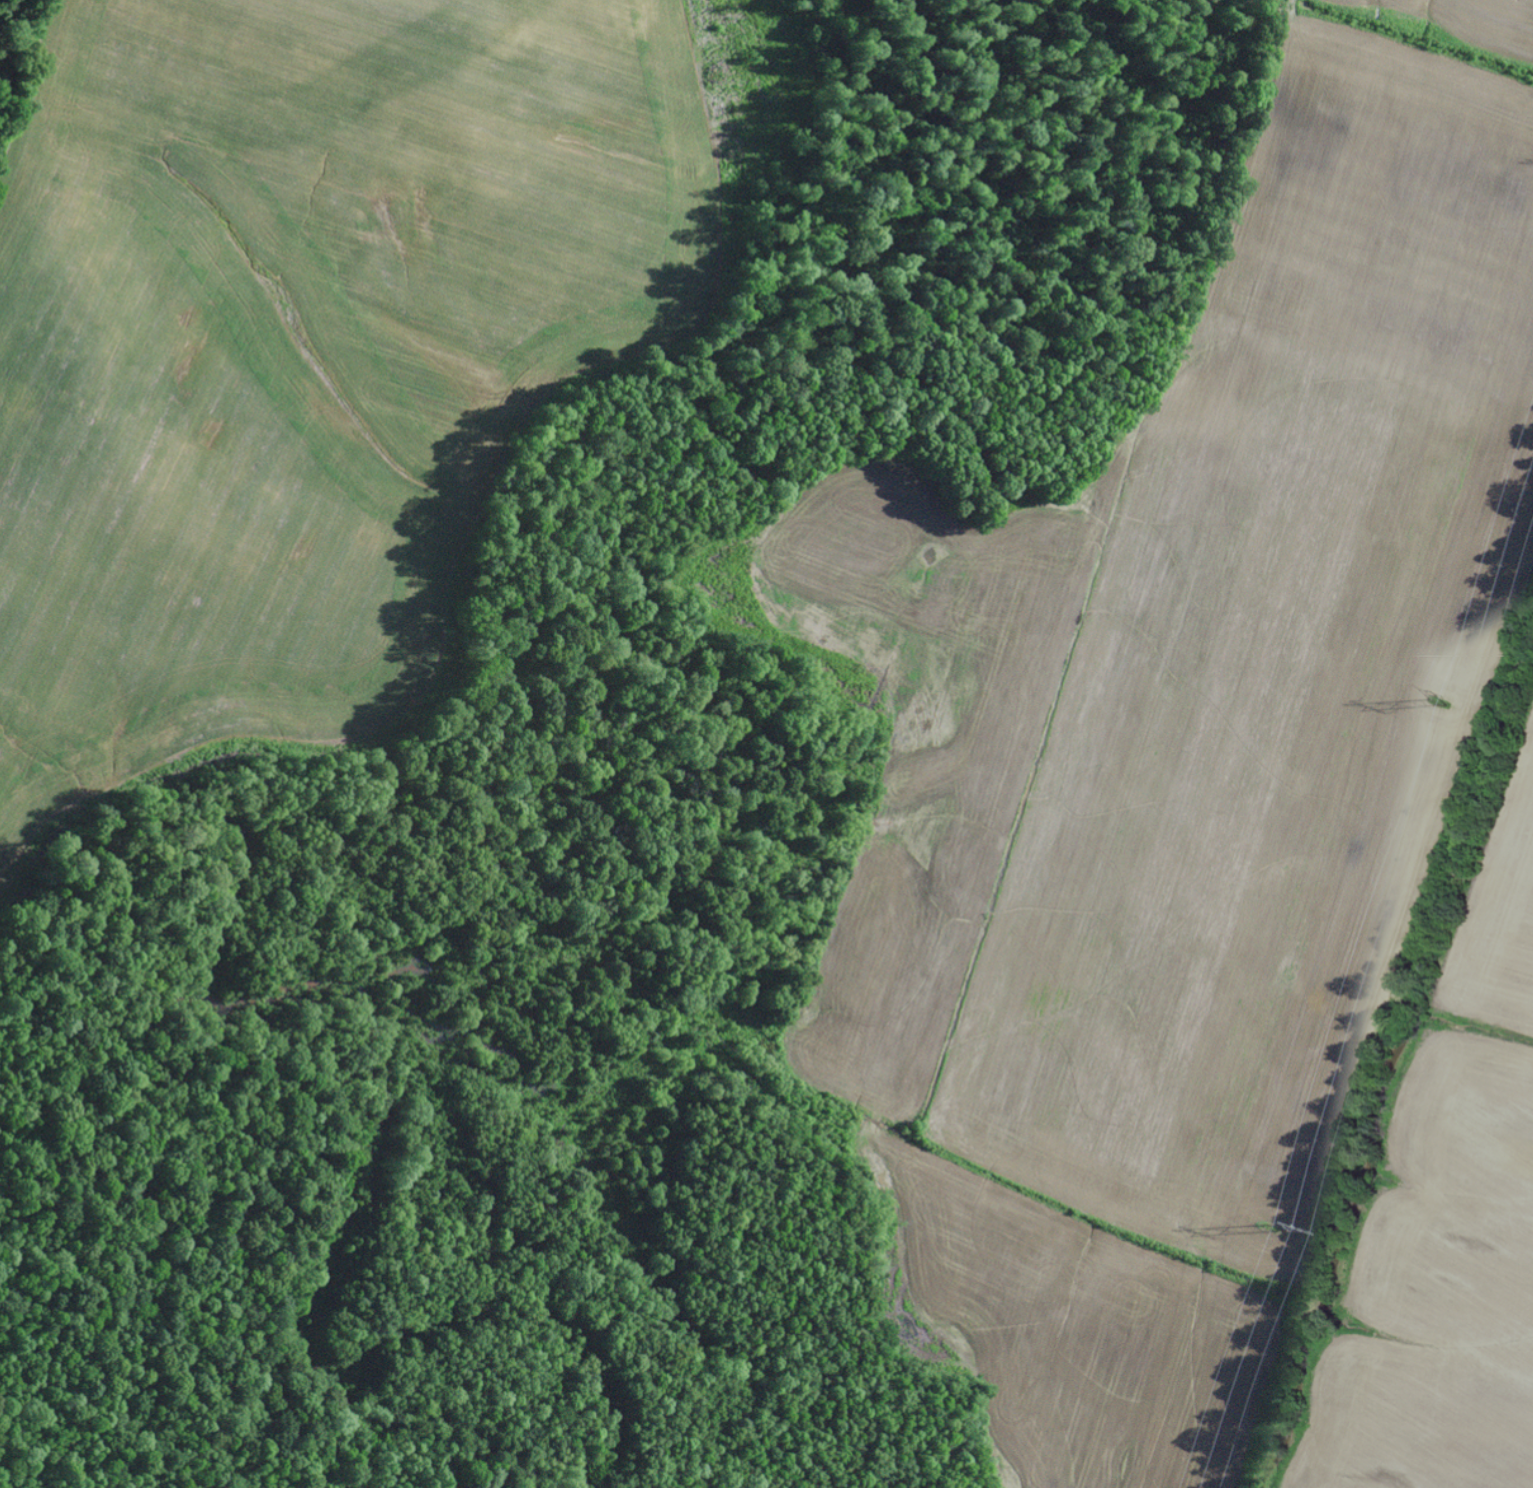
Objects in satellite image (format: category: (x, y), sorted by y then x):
power tower: (1443, 698)
power tower: (1271, 1223)

